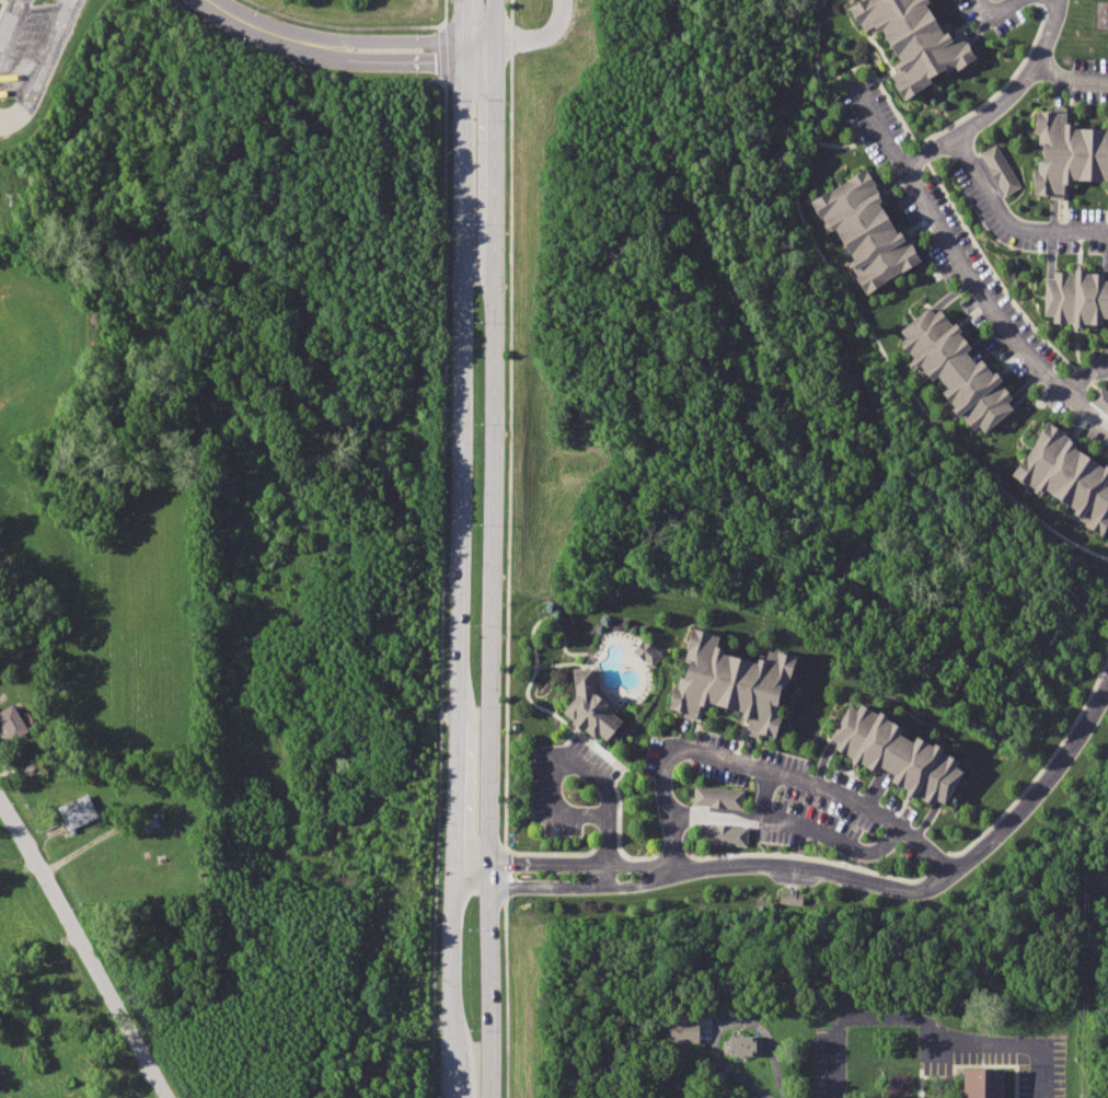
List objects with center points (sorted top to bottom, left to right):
road: (1057, 0)
road: (1, 4)
road: (445, 13)
road: (991, 19)
road: (9, 21)
road: (509, 22)
road: (346, 24)
road: (263, 28)
road: (541, 36)
road: (408, 39)
building: (915, 41)
parking lot: (22, 43)
road: (441, 53)
road: (409, 61)
road: (300, 66)
road: (44, 70)
road: (878, 80)
road: (1067, 83)
road: (878, 126)
building: (1070, 153)
building: (1000, 169)
road: (927, 203)
road: (1008, 223)
building: (869, 232)
building: (1078, 298)
road: (863, 322)
building: (959, 370)
road: (1086, 374)
building: (1100, 400)
building: (1070, 475)
road: (454, 548)
road: (492, 548)
building: (646, 651)
building: (736, 685)
building: (590, 706)
building: (14, 724)
building: (899, 756)
road: (764, 773)
building: (716, 797)
road: (762, 797)
road: (1030, 799)
road: (608, 810)
building: (79, 811)
road: (793, 823)
building: (724, 834)
park: (7, 844)
road: (580, 862)
road: (792, 863)
road: (477, 872)
road: (581, 883)
road: (85, 948)
road: (854, 1013)
building: (683, 1029)
building: (742, 1045)
road: (1017, 1048)
road: (717, 1056)
parking lot: (1001, 1057)
parking lot: (831, 1061)
building: (988, 1084)

